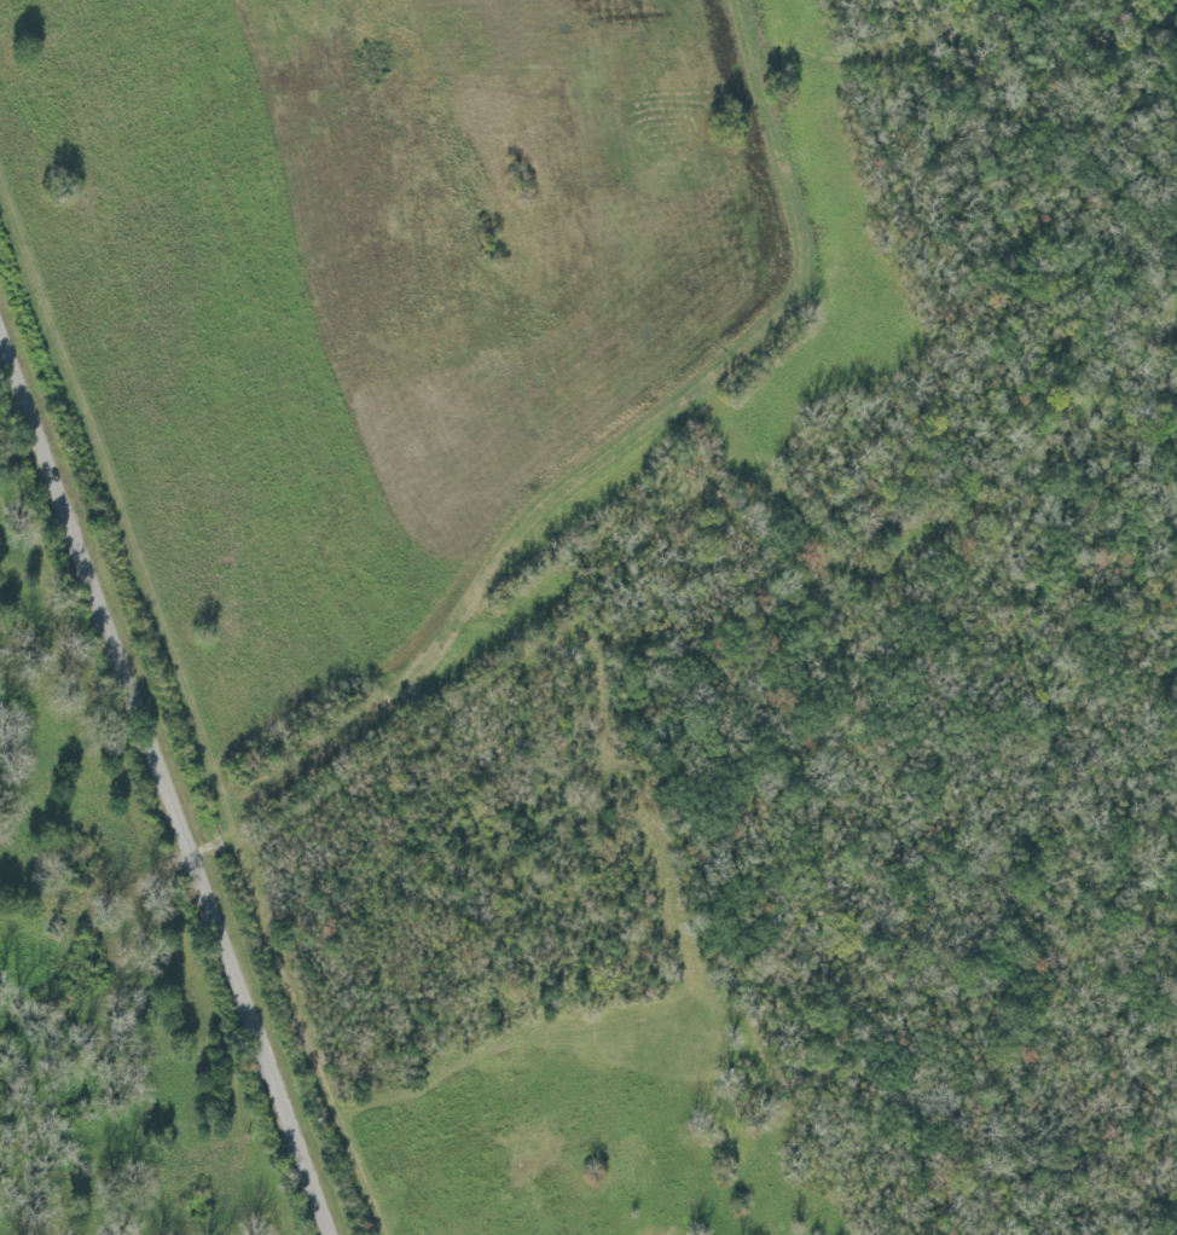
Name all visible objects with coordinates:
road: (166, 787)

